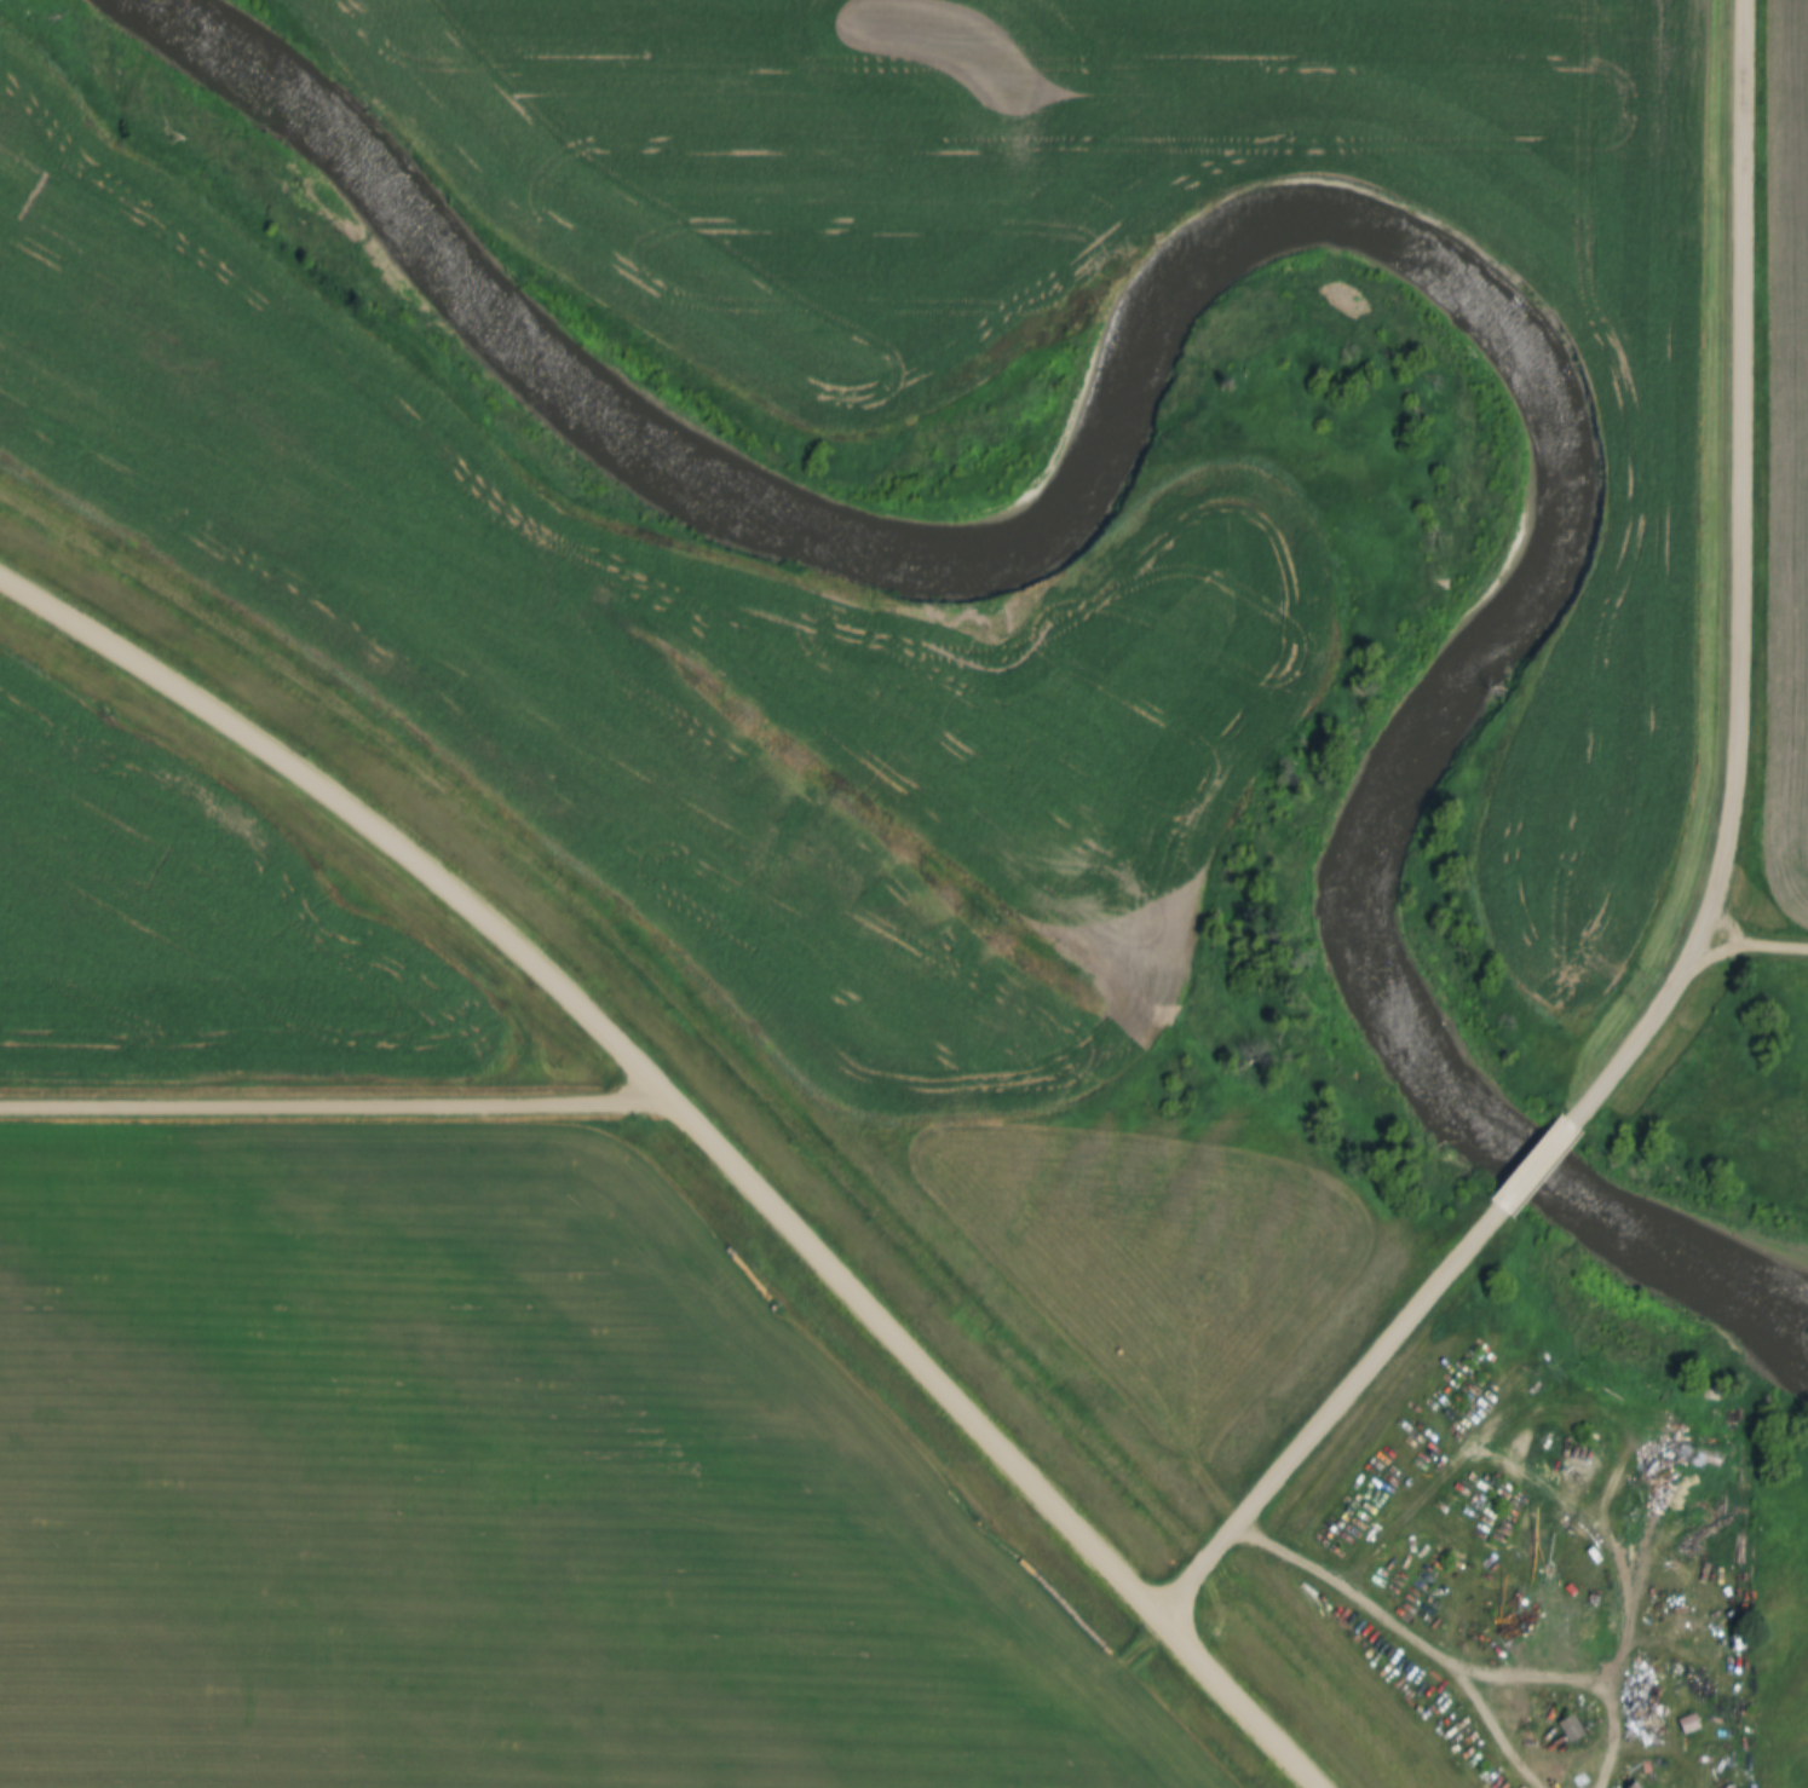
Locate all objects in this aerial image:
river: (1289, 213)
road: (1740, 583)
road: (1751, 945)
railway: (756, 1082)
road: (333, 1098)
road: (701, 1134)
road: (1532, 1163)
road: (1325, 1411)
road: (1349, 1588)
road: (1582, 1675)
building: (1570, 1728)
road: (1496, 1730)
building: (1634, 1784)

